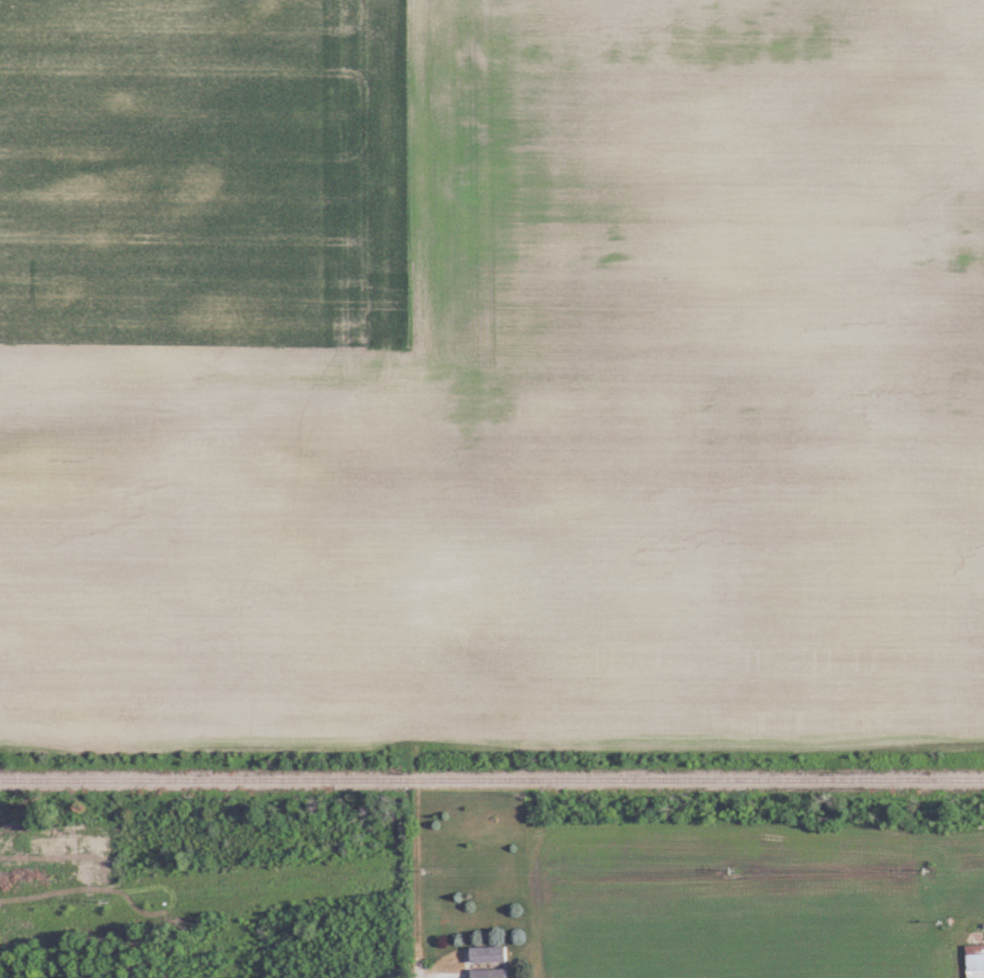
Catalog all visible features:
railway: (699, 781)
railway: (207, 782)
road: (418, 900)
building: (491, 955)
building: (976, 962)
building: (492, 974)

